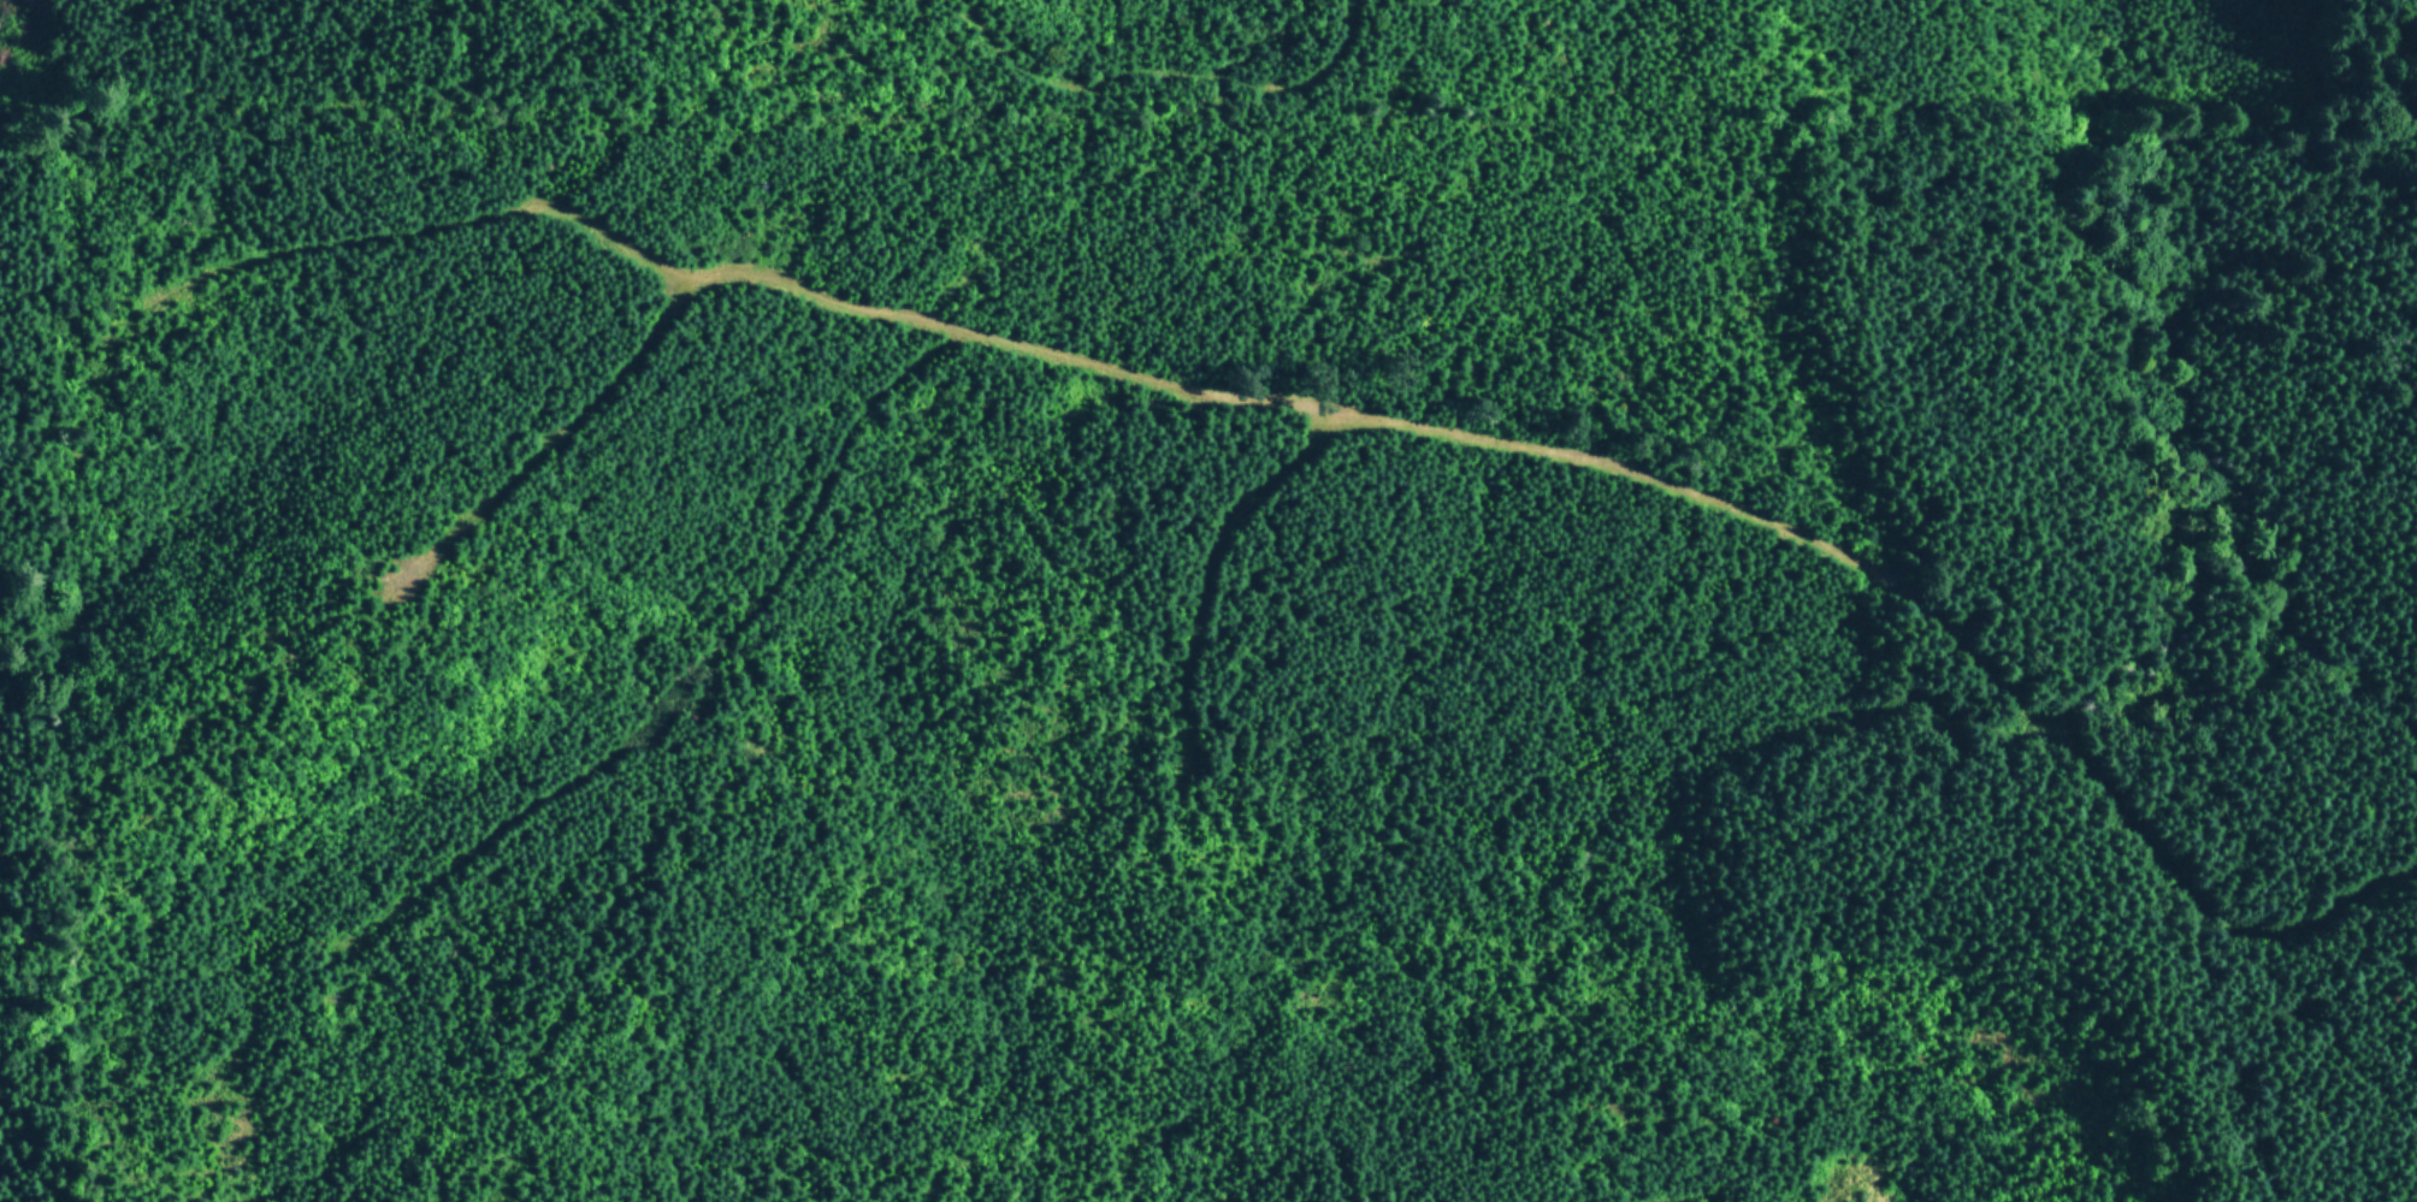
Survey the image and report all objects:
road: (2340, 901)

